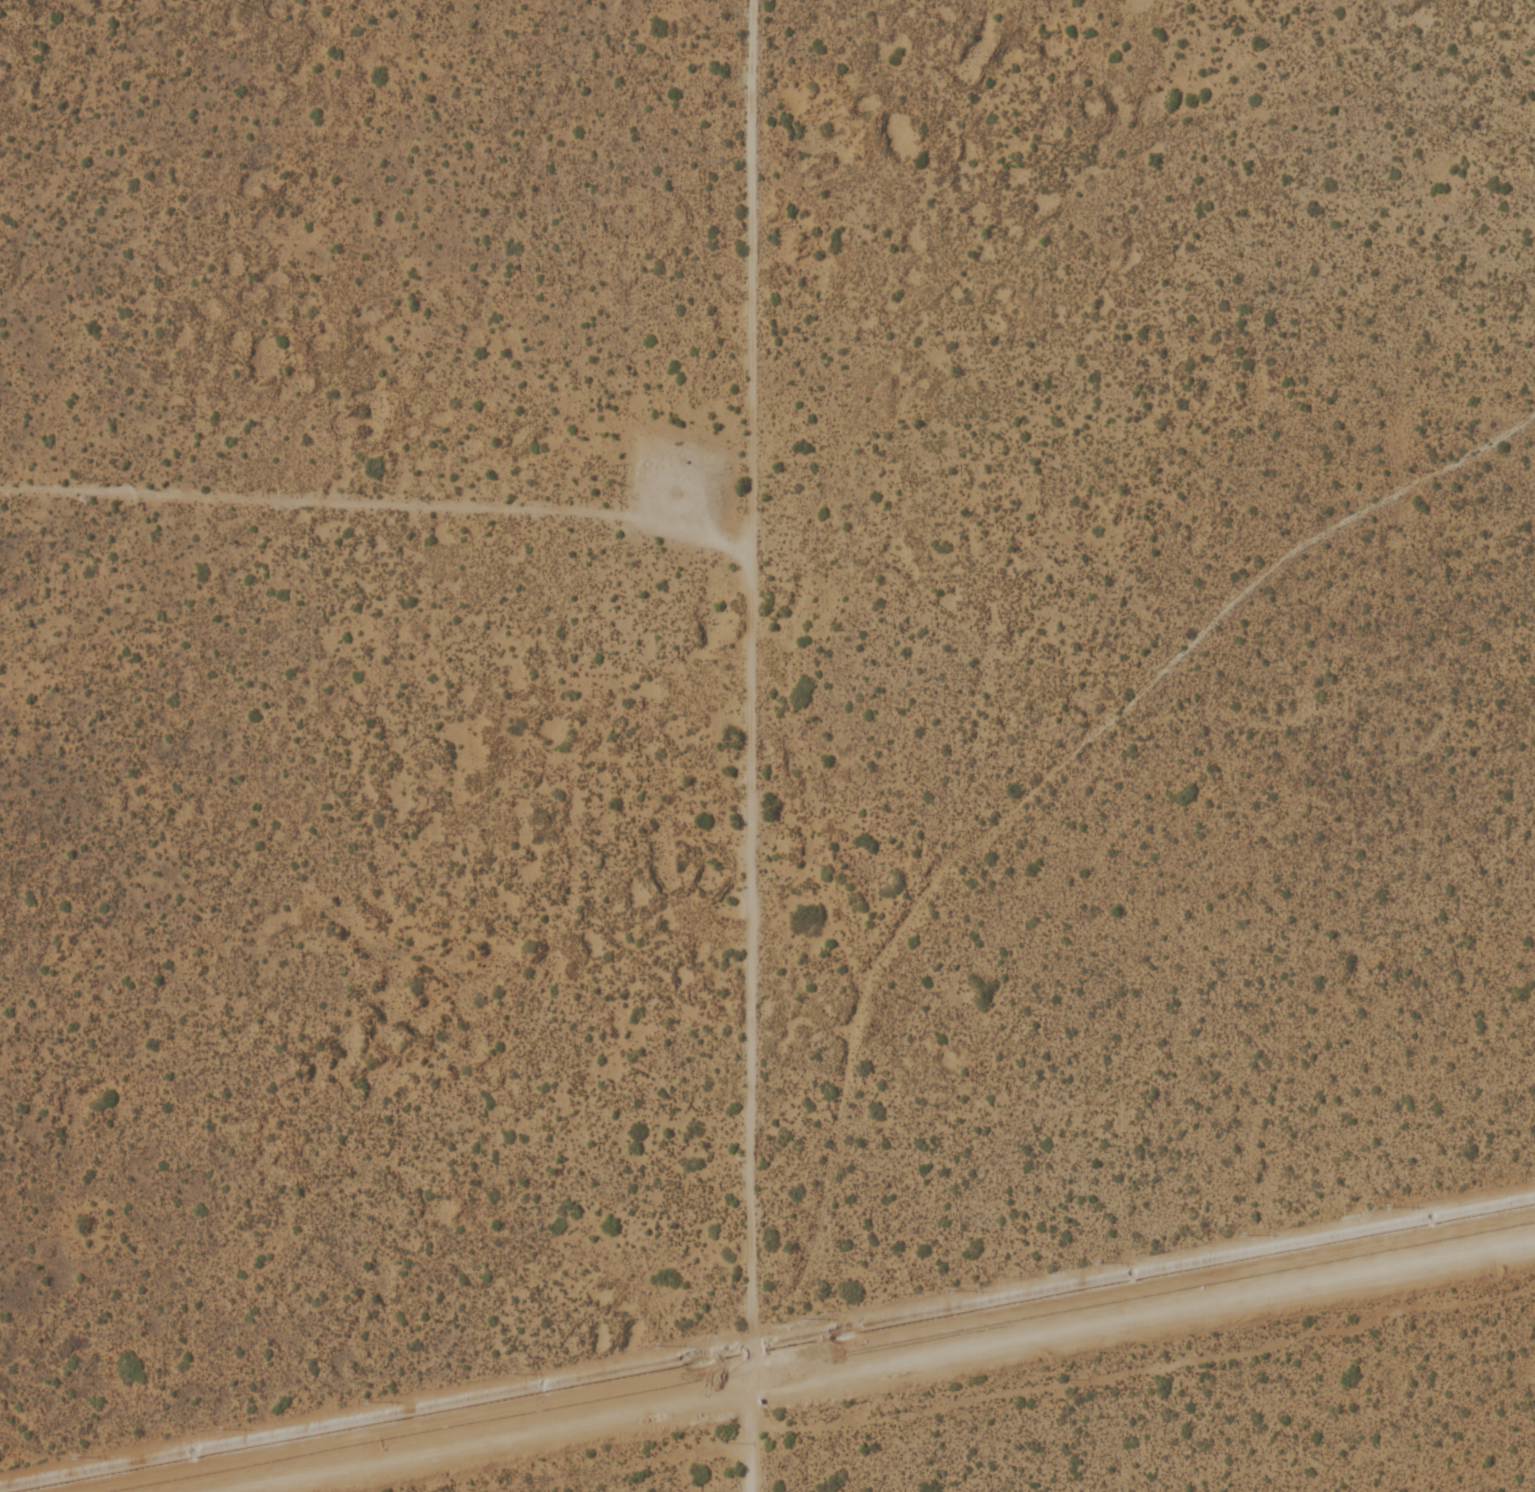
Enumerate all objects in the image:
road: (747, 745)
road: (1060, 852)

